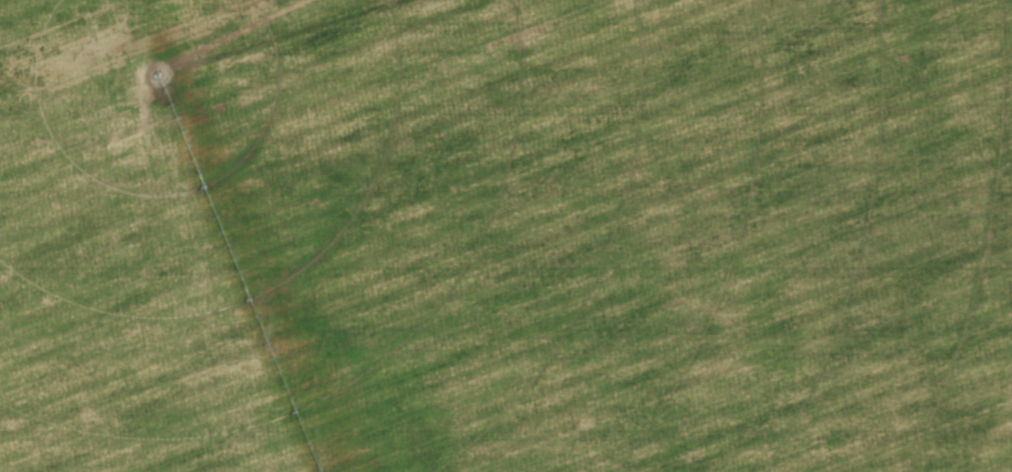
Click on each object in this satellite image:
crop: (506, 236)

